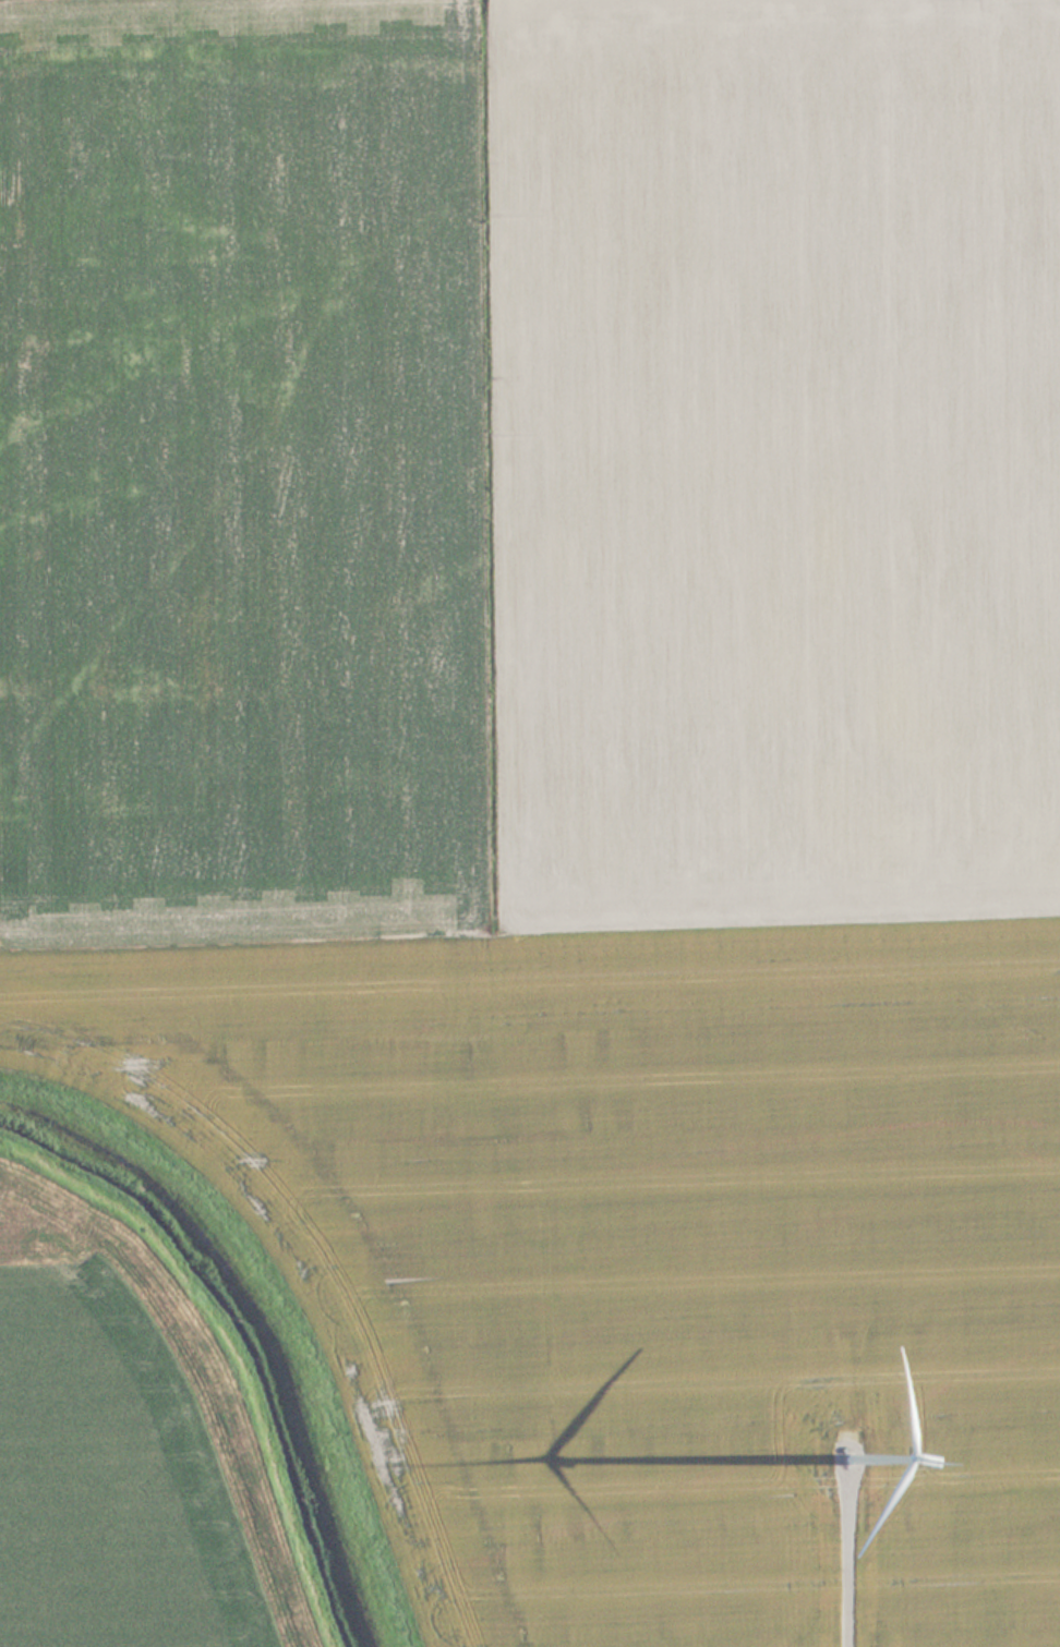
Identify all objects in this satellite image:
wind turbine: (850, 1434)
road: (847, 1579)

